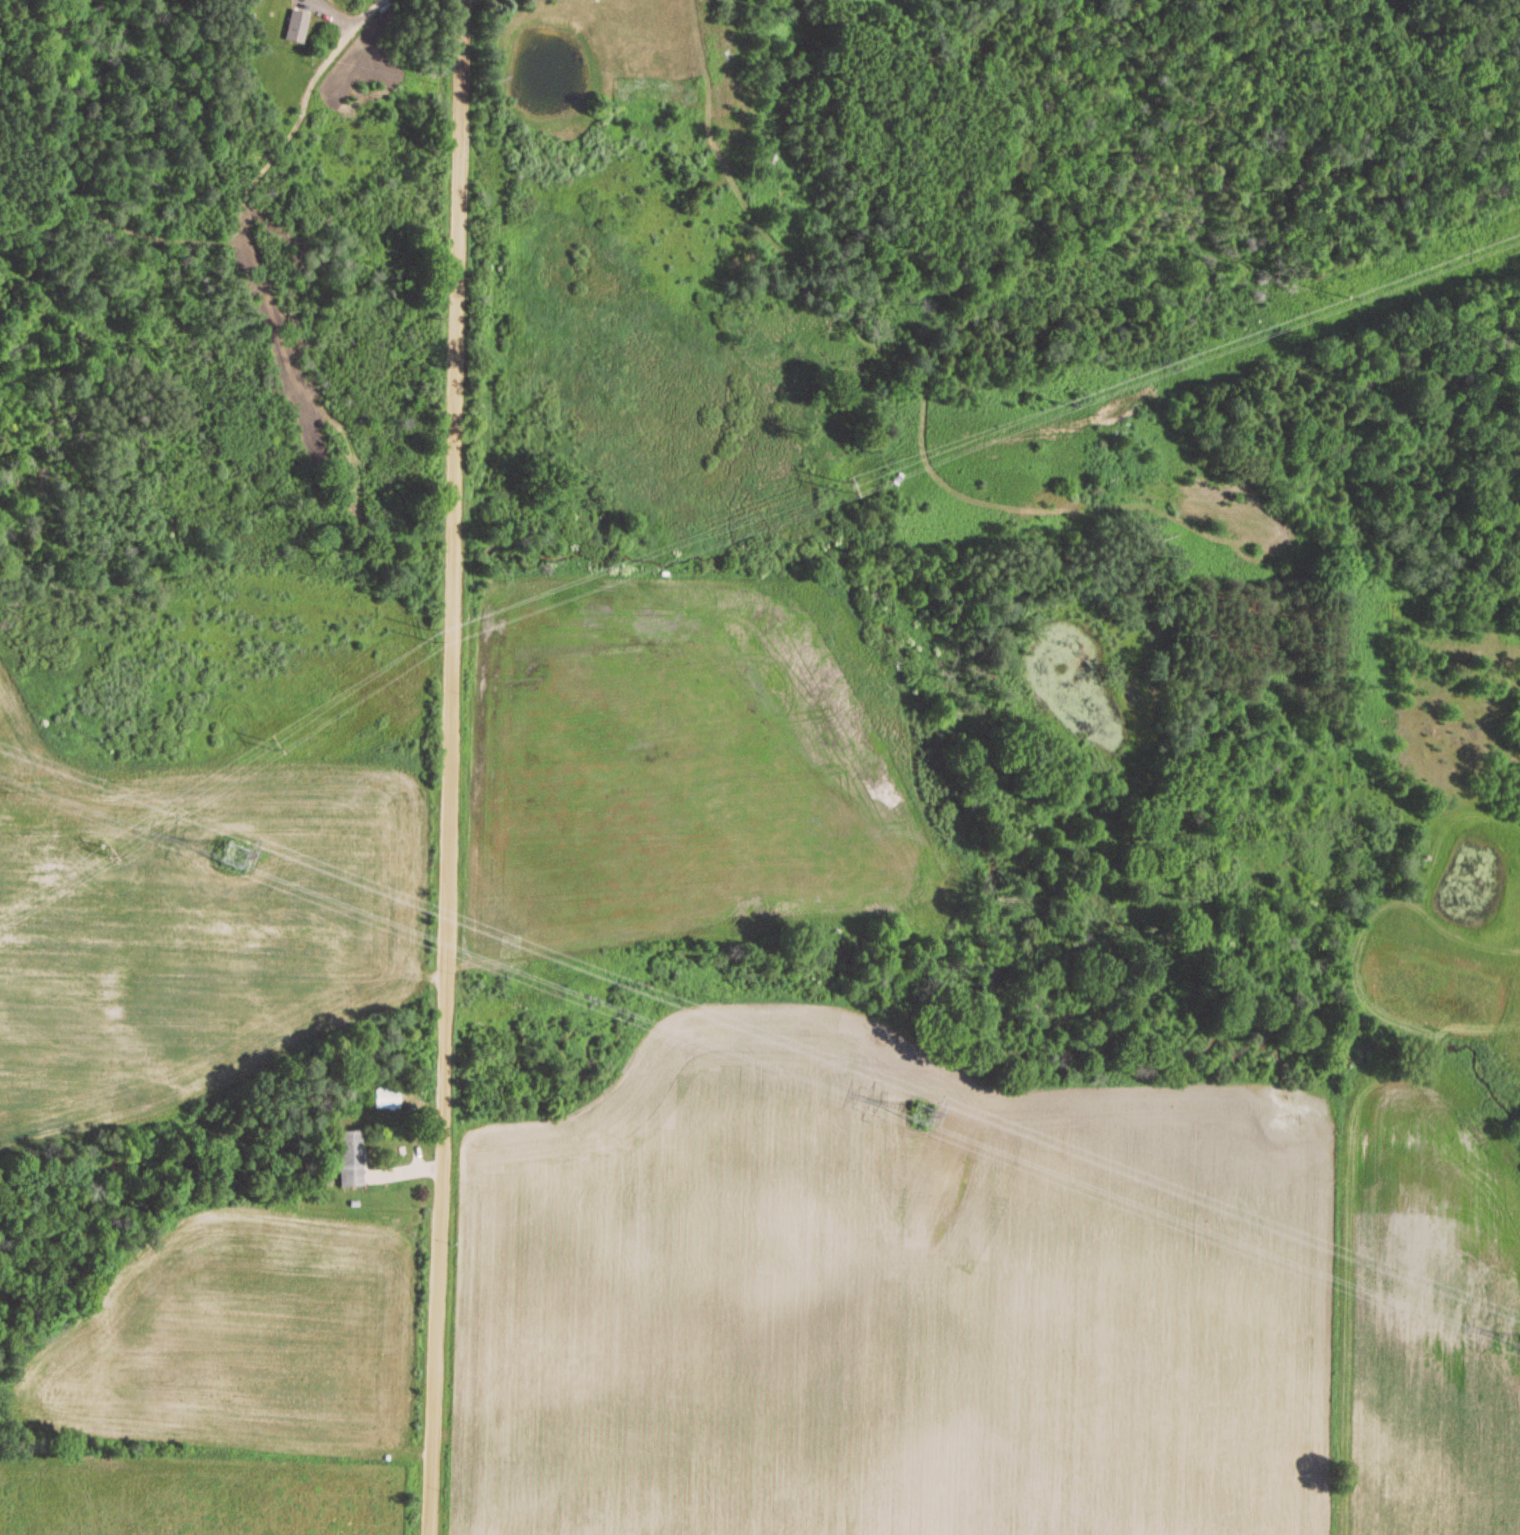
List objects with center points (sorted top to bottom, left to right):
road: (435, 767)
power tower: (230, 855)
building: (386, 1098)
power tower: (918, 1111)
building: (347, 1160)

